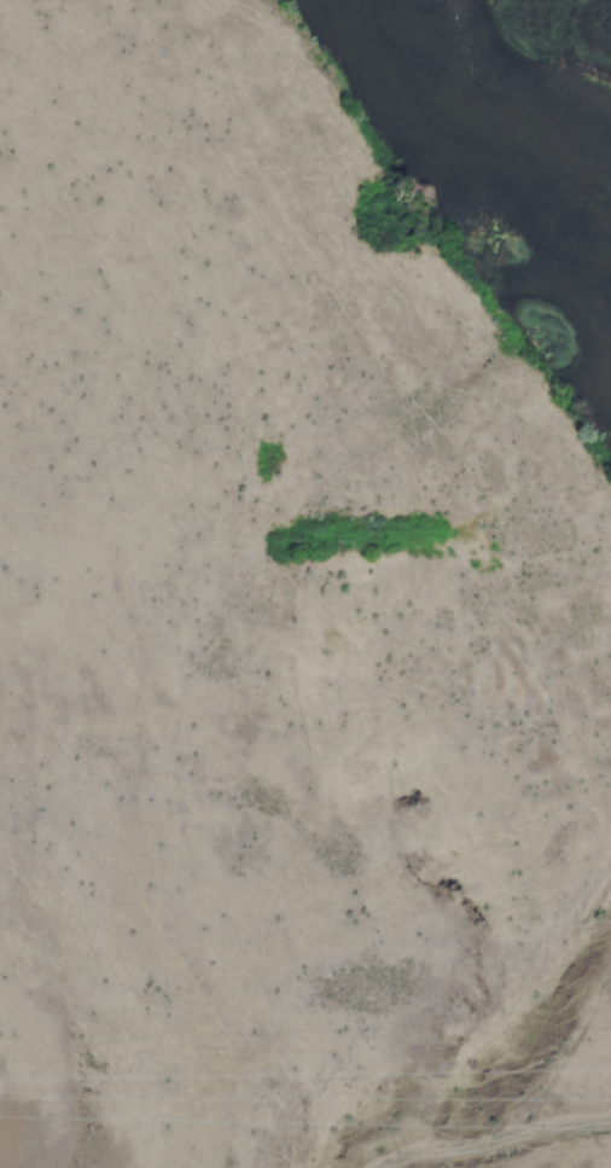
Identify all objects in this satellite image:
power tower: (7, 1076)

